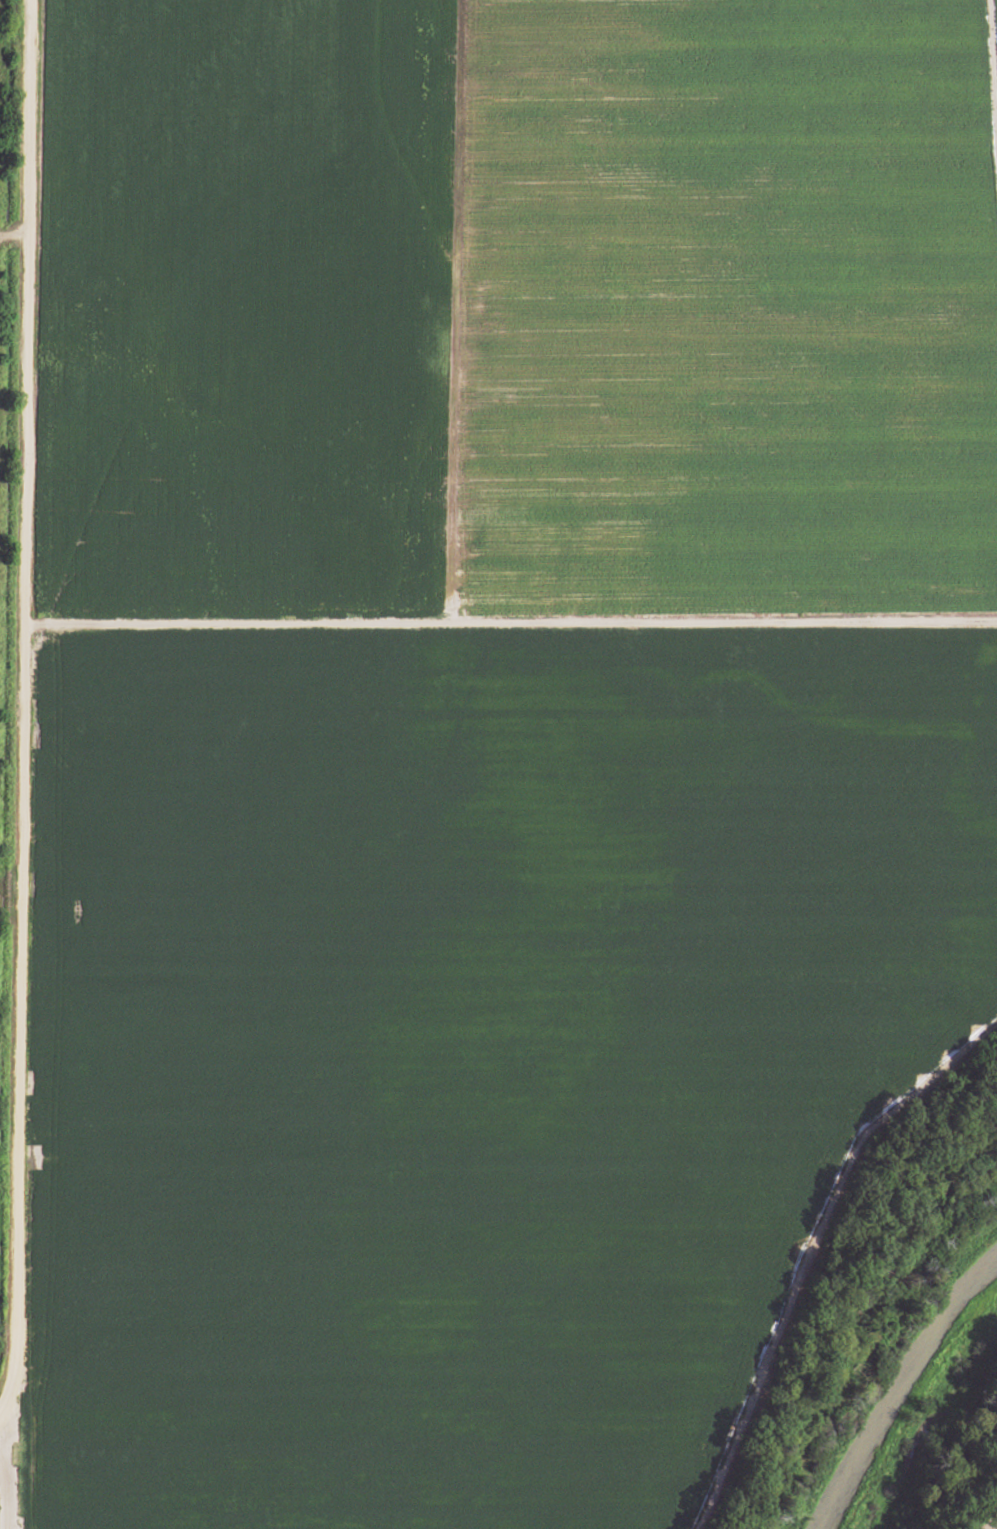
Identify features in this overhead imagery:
road: (10, 236)
road: (499, 622)
road: (15, 693)
river: (887, 1385)
road: (4, 1478)

